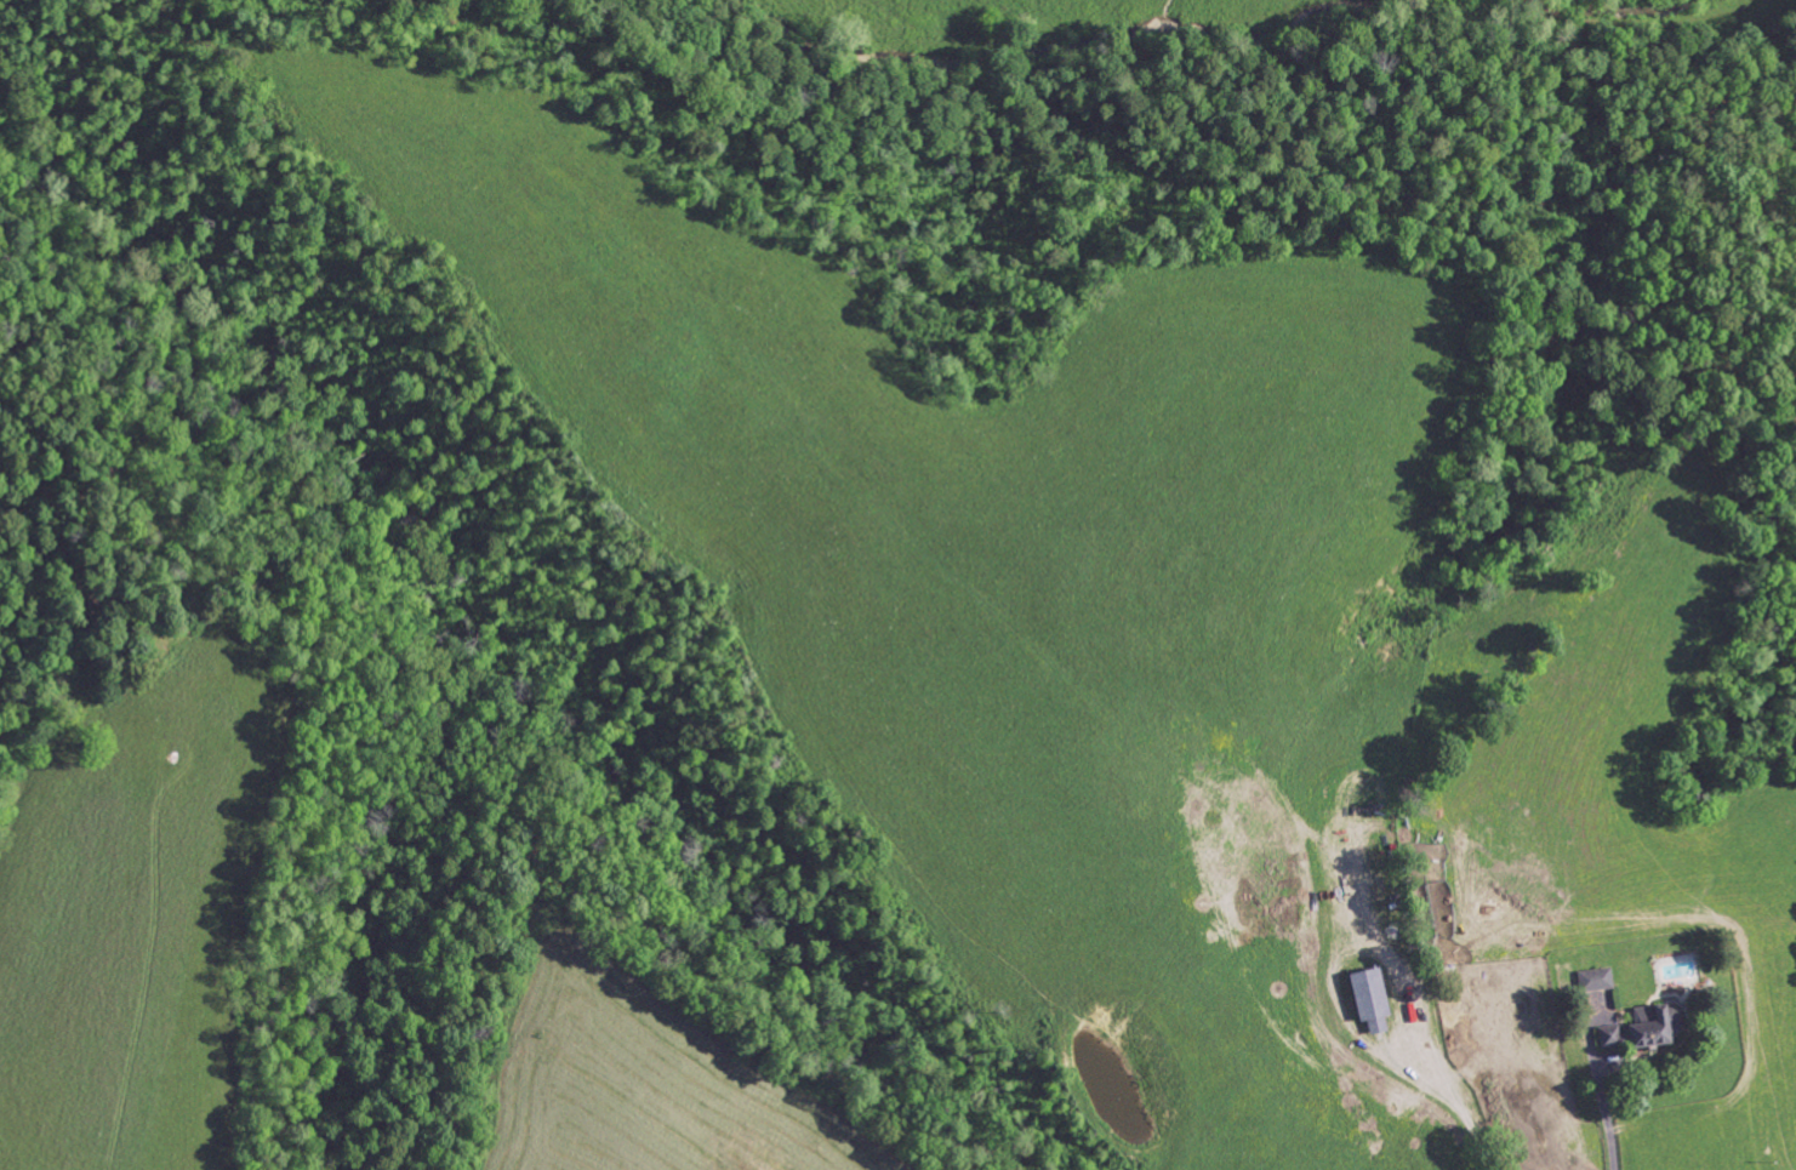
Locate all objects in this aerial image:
building: (1593, 980)
building: (1367, 1000)
building: (1650, 1027)
building: (1608, 1037)

